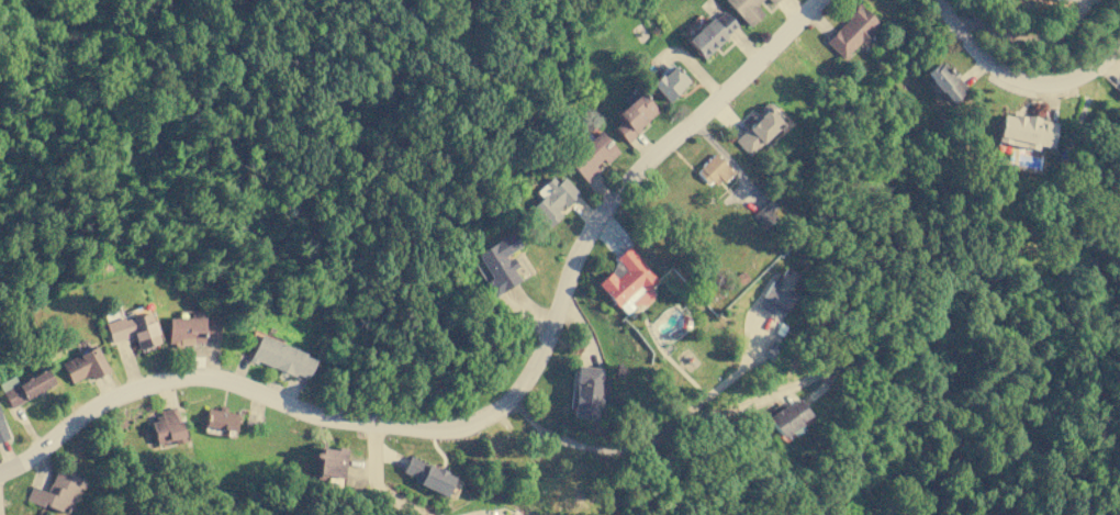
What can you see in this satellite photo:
building: (1063, 0)
building: (771, 1)
building: (744, 10)
building: (851, 32)
building: (712, 33)
road: (1013, 79)
building: (668, 81)
building: (944, 81)
building: (634, 115)
building: (759, 127)
building: (1024, 131)
building: (591, 155)
building: (714, 170)
building: (552, 202)
building: (766, 213)
building: (499, 264)
building: (627, 282)
building: (779, 291)
building: (134, 329)
building: (280, 357)
building: (83, 365)
building: (24, 387)
building: (587, 392)
road: (494, 412)
building: (785, 416)
building: (217, 419)
building: (165, 426)
building: (2, 430)
road: (605, 454)
building: (329, 461)
building: (427, 475)
road: (378, 482)
building: (55, 492)
building: (575, 492)
building: (497, 514)

